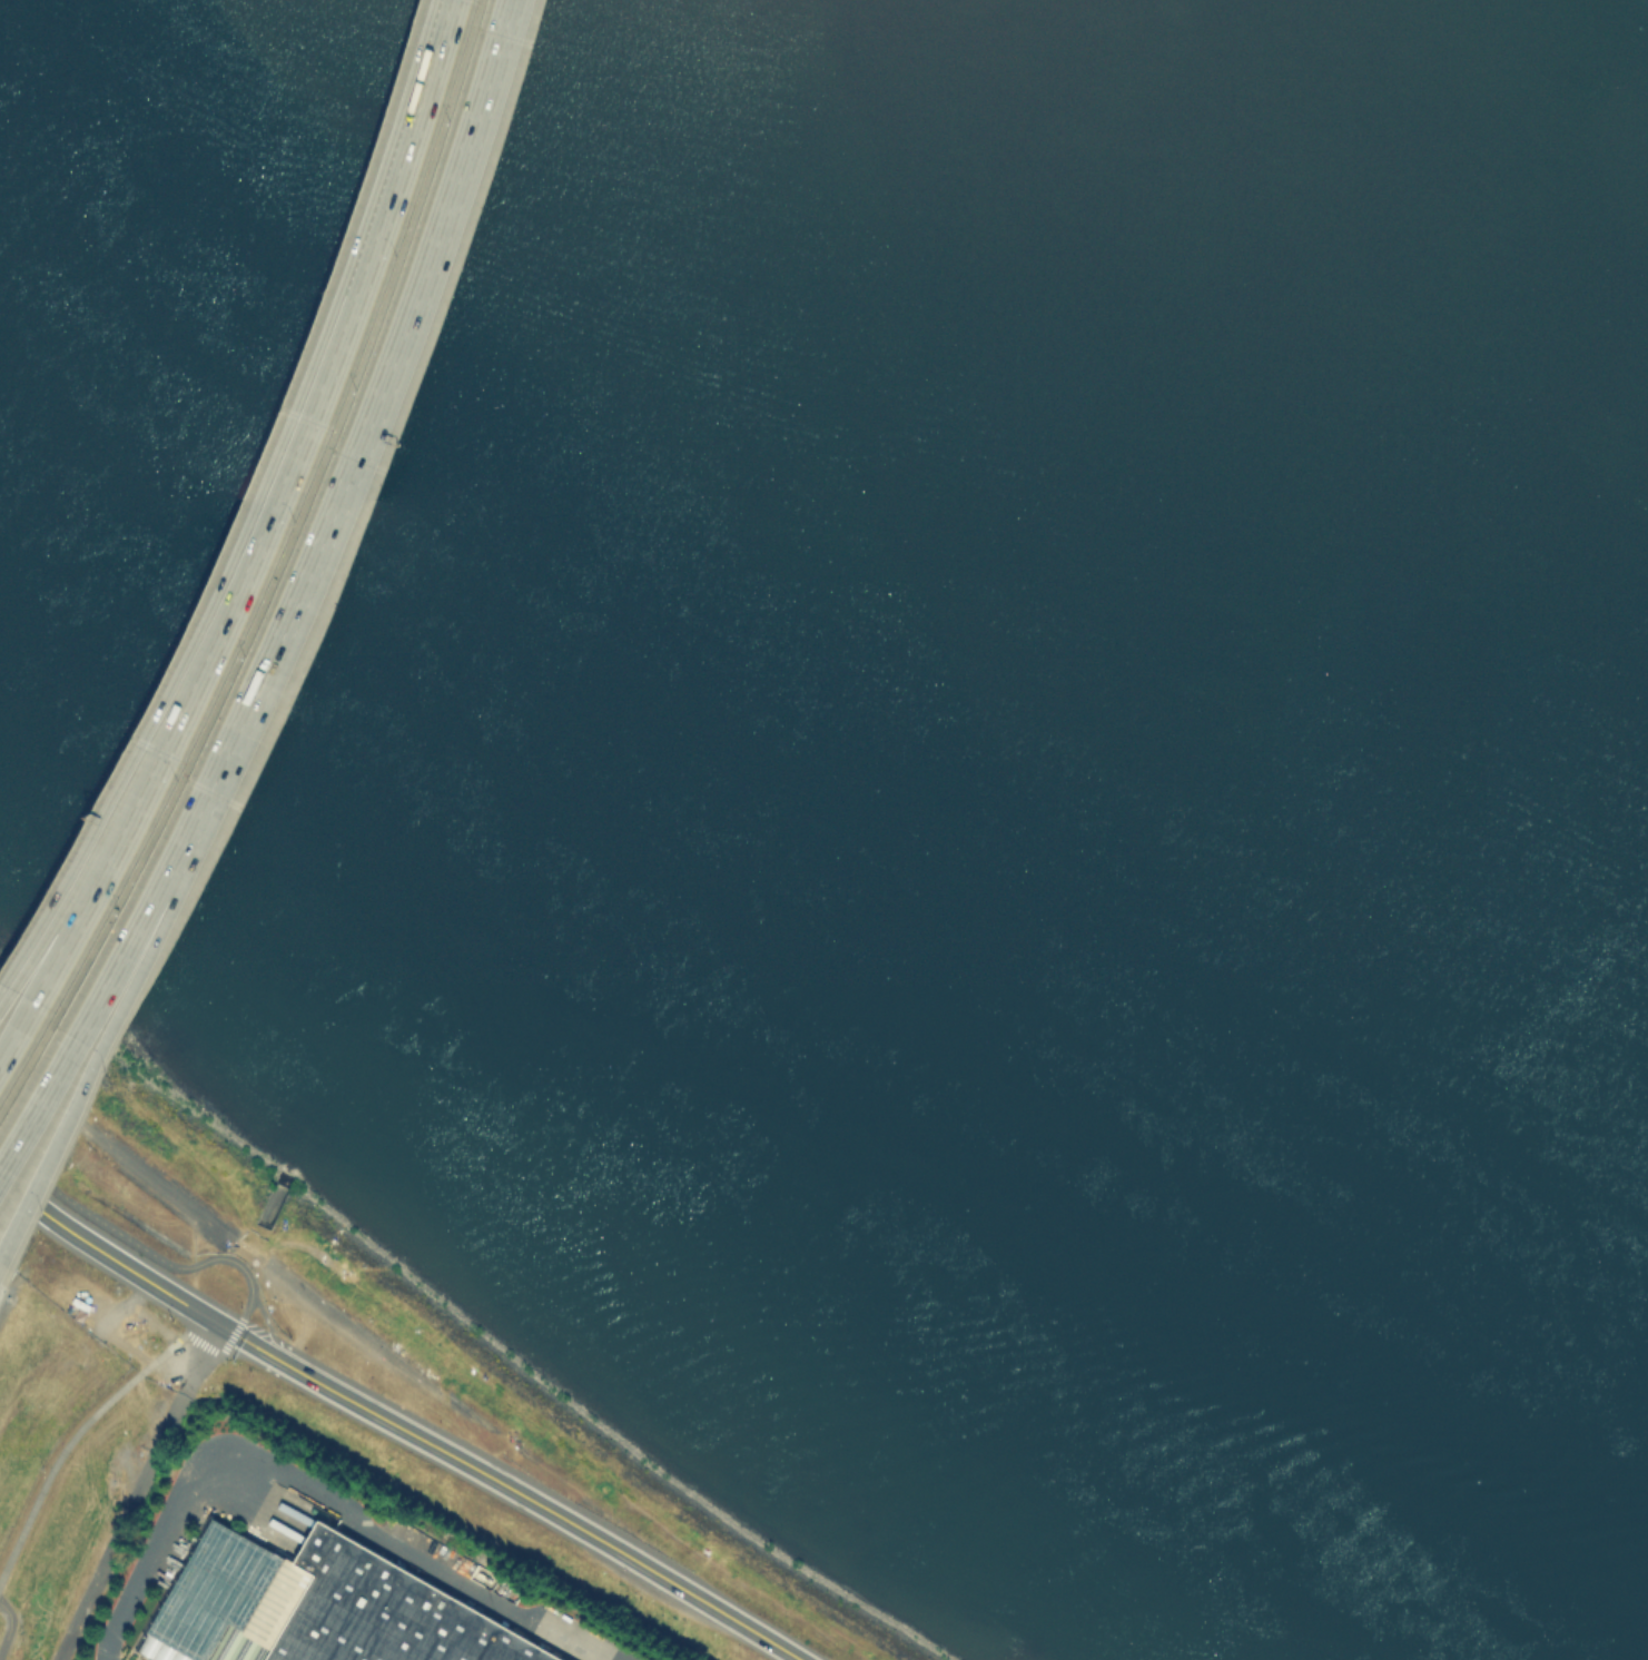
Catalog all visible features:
road: (412, 150)
road: (346, 453)
road: (275, 570)
road: (244, 592)
road: (49, 931)
road: (52, 972)
road: (77, 1024)
road: (75, 1066)
road: (168, 1190)
road: (129, 1239)
road: (228, 1251)
road: (107, 1255)
road: (261, 1278)
road: (245, 1316)
road: (267, 1324)
road: (226, 1328)
road: (368, 1341)
road: (254, 1345)
road: (211, 1351)
road: (69, 1440)
road: (310, 1490)
road: (137, 1491)
road: (540, 1503)
building: (318, 1607)
road: (8, 1627)

